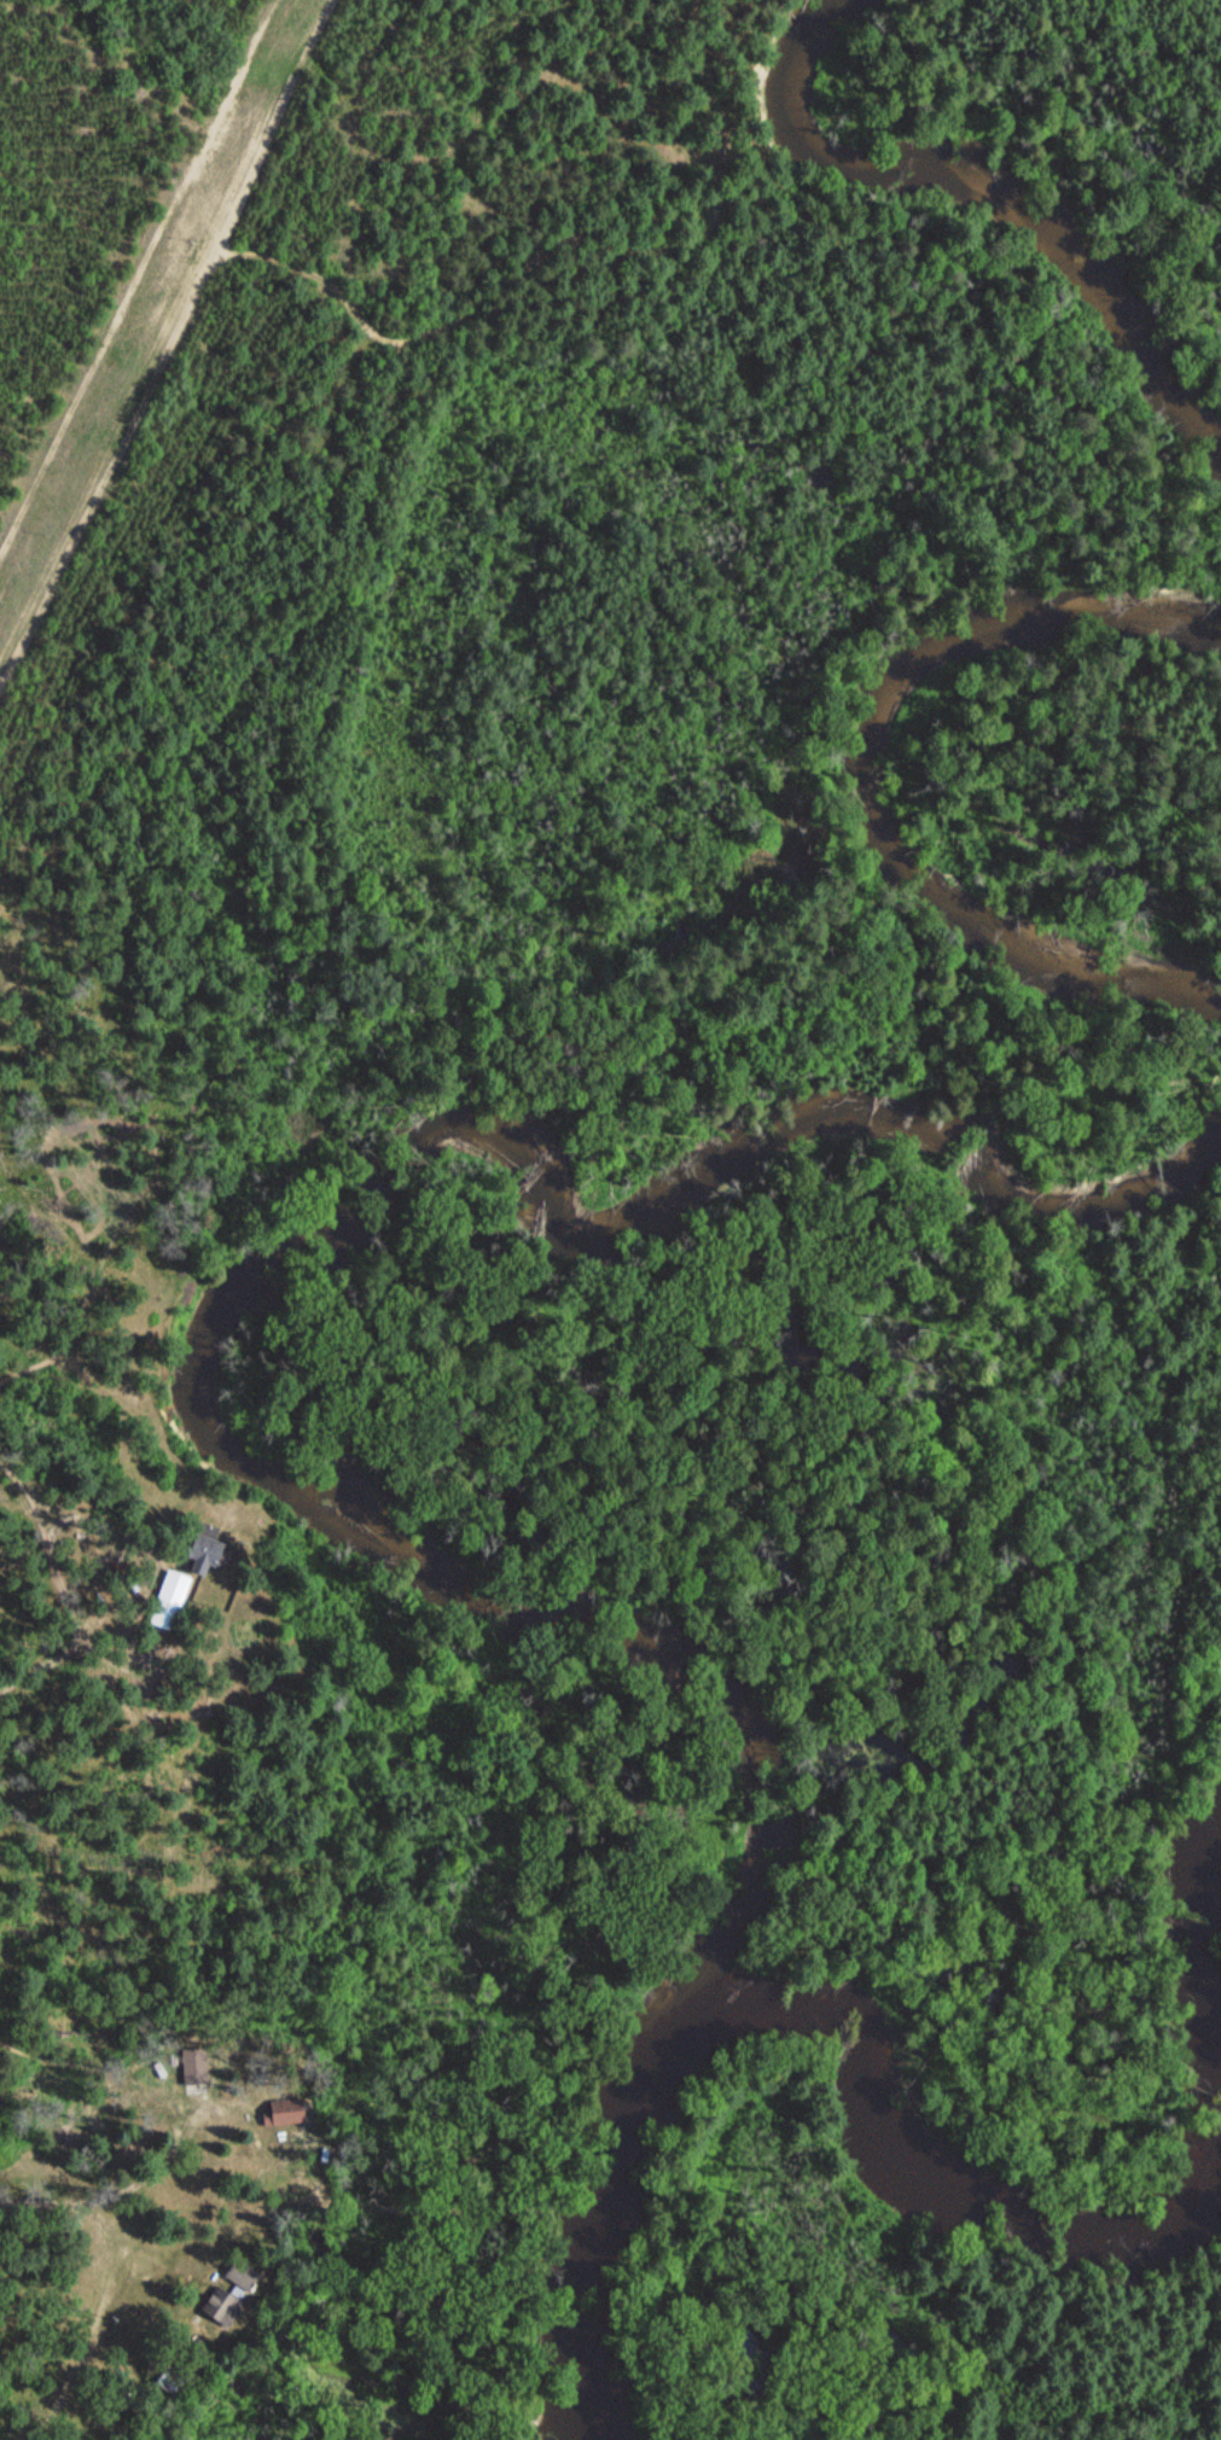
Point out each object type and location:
river: (990, 188)
road: (153, 315)
river: (876, 787)
river: (264, 1266)
building: (205, 1551)
building: (169, 1600)
road: (159, 1806)
river: (1208, 1958)
building: (196, 2063)
building: (284, 2110)
river: (935, 2150)
road: (77, 2208)
river: (604, 2221)
building: (243, 2273)
building: (223, 2305)
road: (85, 2357)

